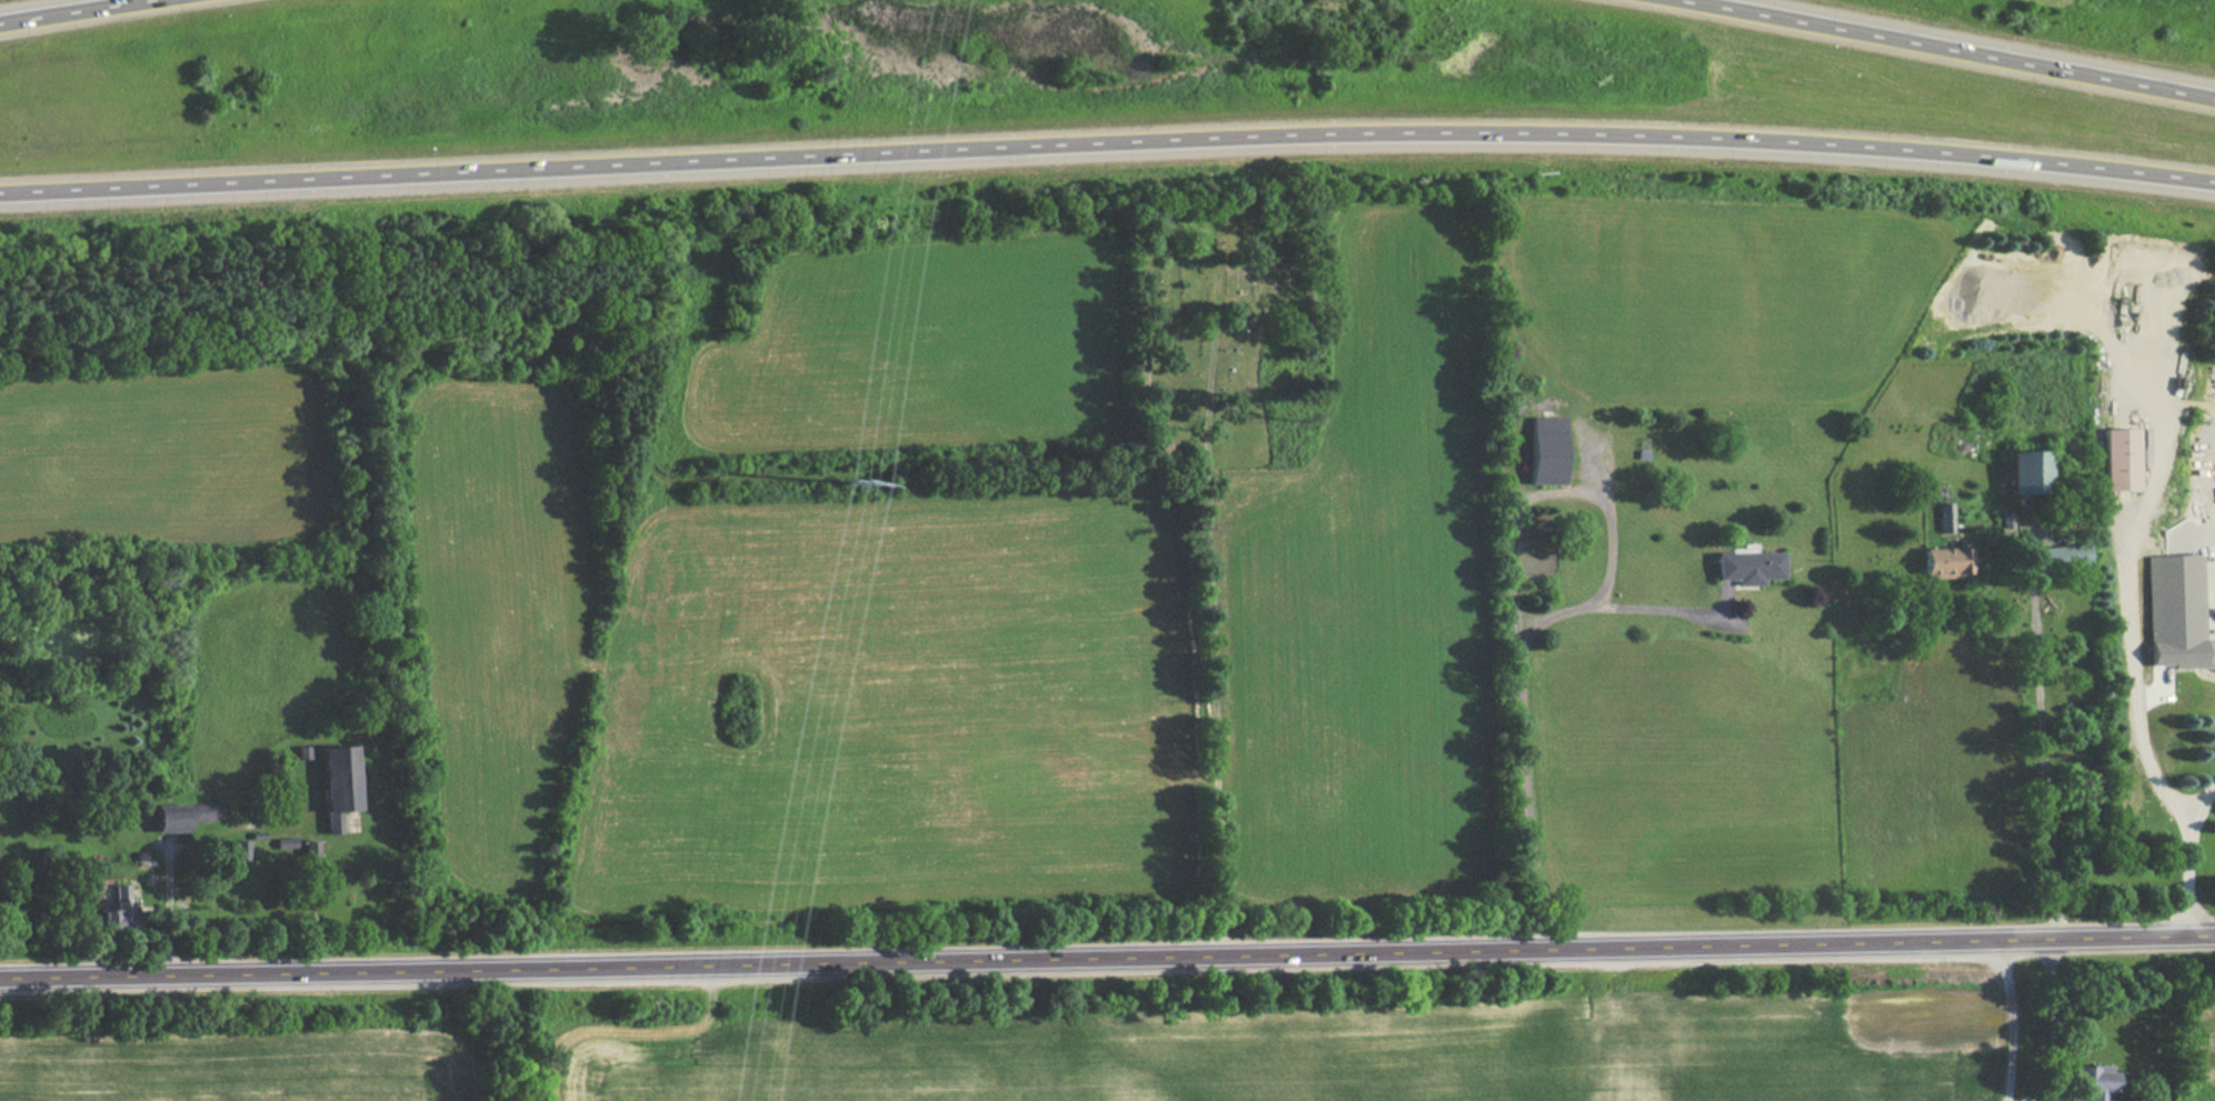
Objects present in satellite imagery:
road: (64, 10)
road: (1948, 48)
road: (1107, 139)
park: (1219, 330)
building: (1541, 451)
building: (2114, 460)
building: (2021, 473)
power tower: (846, 502)
building: (2057, 557)
building: (1937, 562)
building: (1744, 568)
road: (1513, 585)
road: (1656, 610)
road: (1210, 642)
road: (2039, 729)
road: (2134, 732)
building: (332, 777)
building: (178, 818)
building: (241, 849)
building: (114, 912)
building: (1050, 921)
road: (1107, 958)
road: (2016, 1019)
road: (2049, 1019)
crop: (1311, 1057)
crop: (2205, 1057)
building: (2086, 1082)

